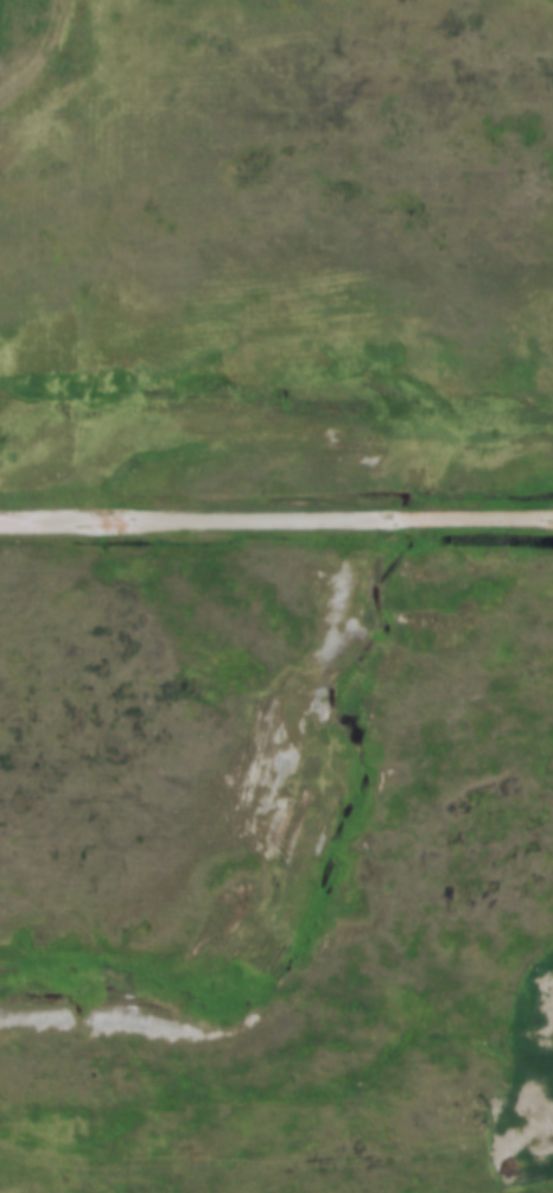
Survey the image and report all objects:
road: (275, 526)

